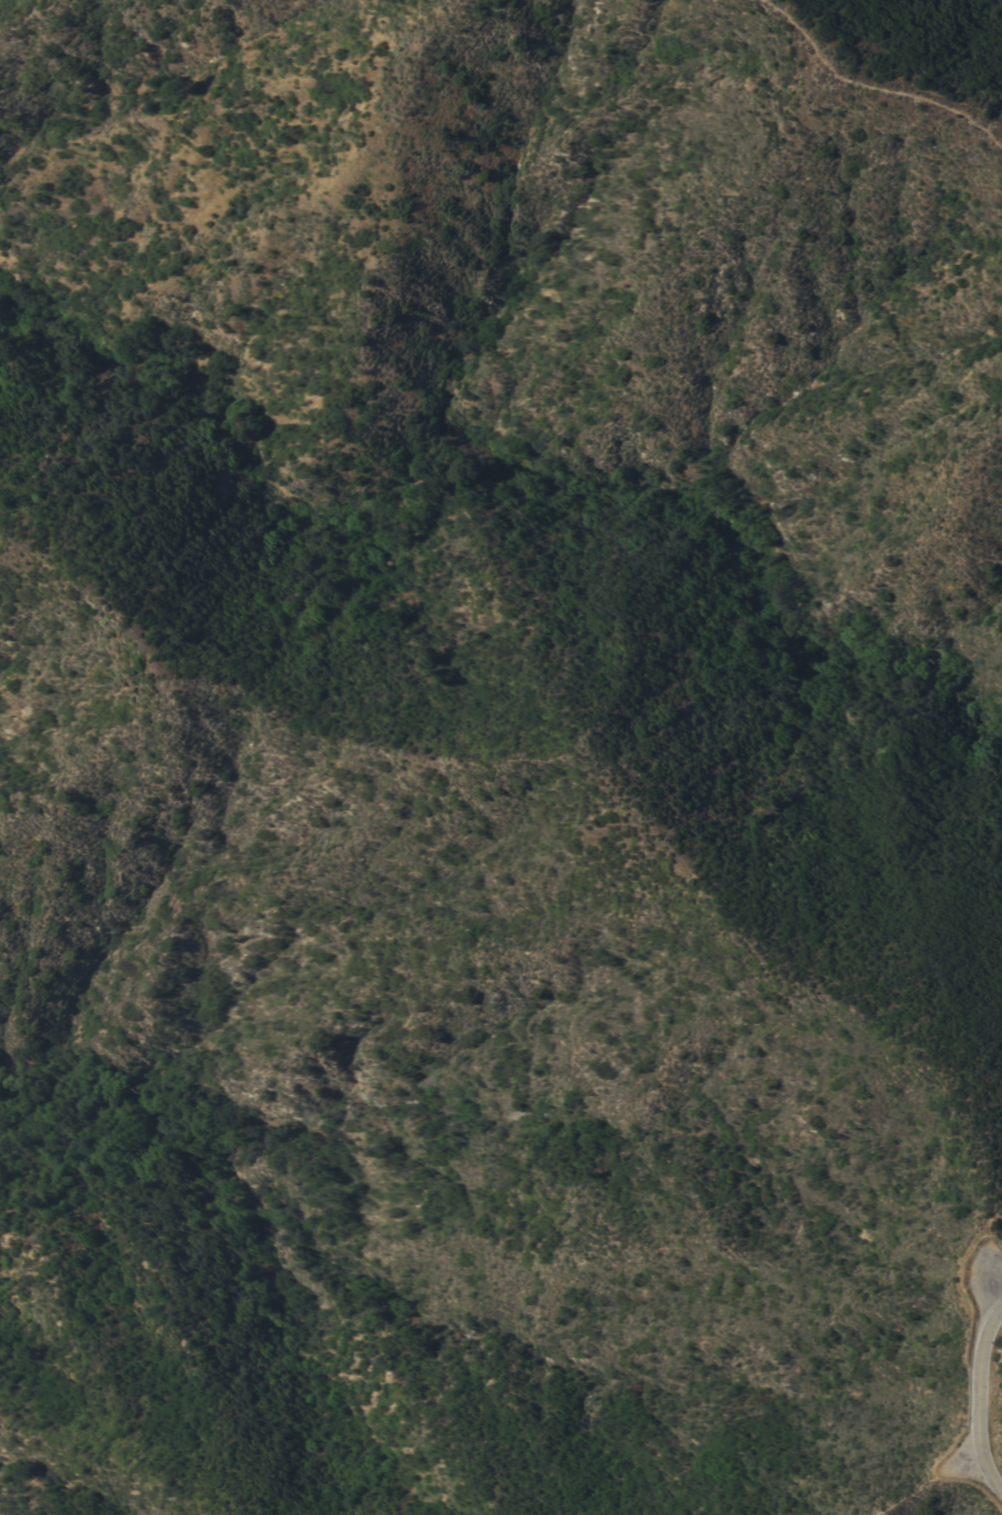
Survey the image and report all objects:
parking lot: (988, 1283)
road: (979, 1396)
parking lot: (970, 1457)

